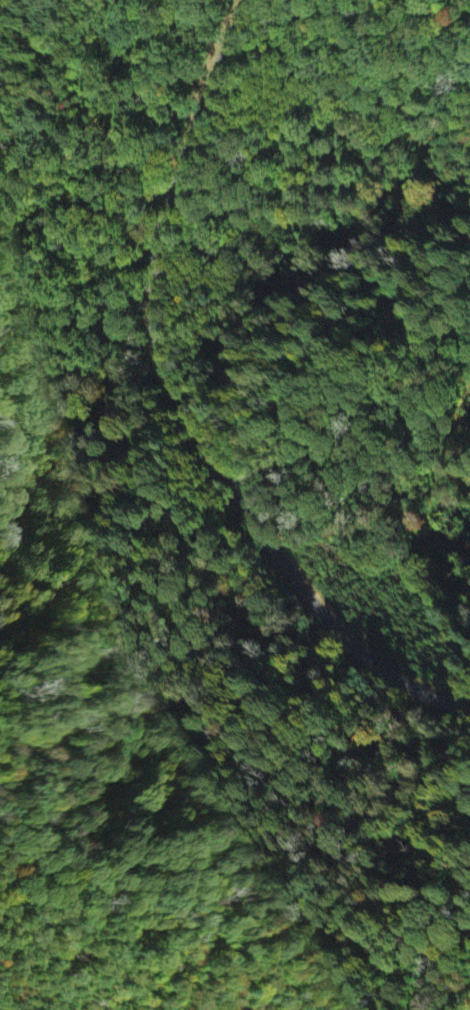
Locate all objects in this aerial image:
road: (183, 405)

